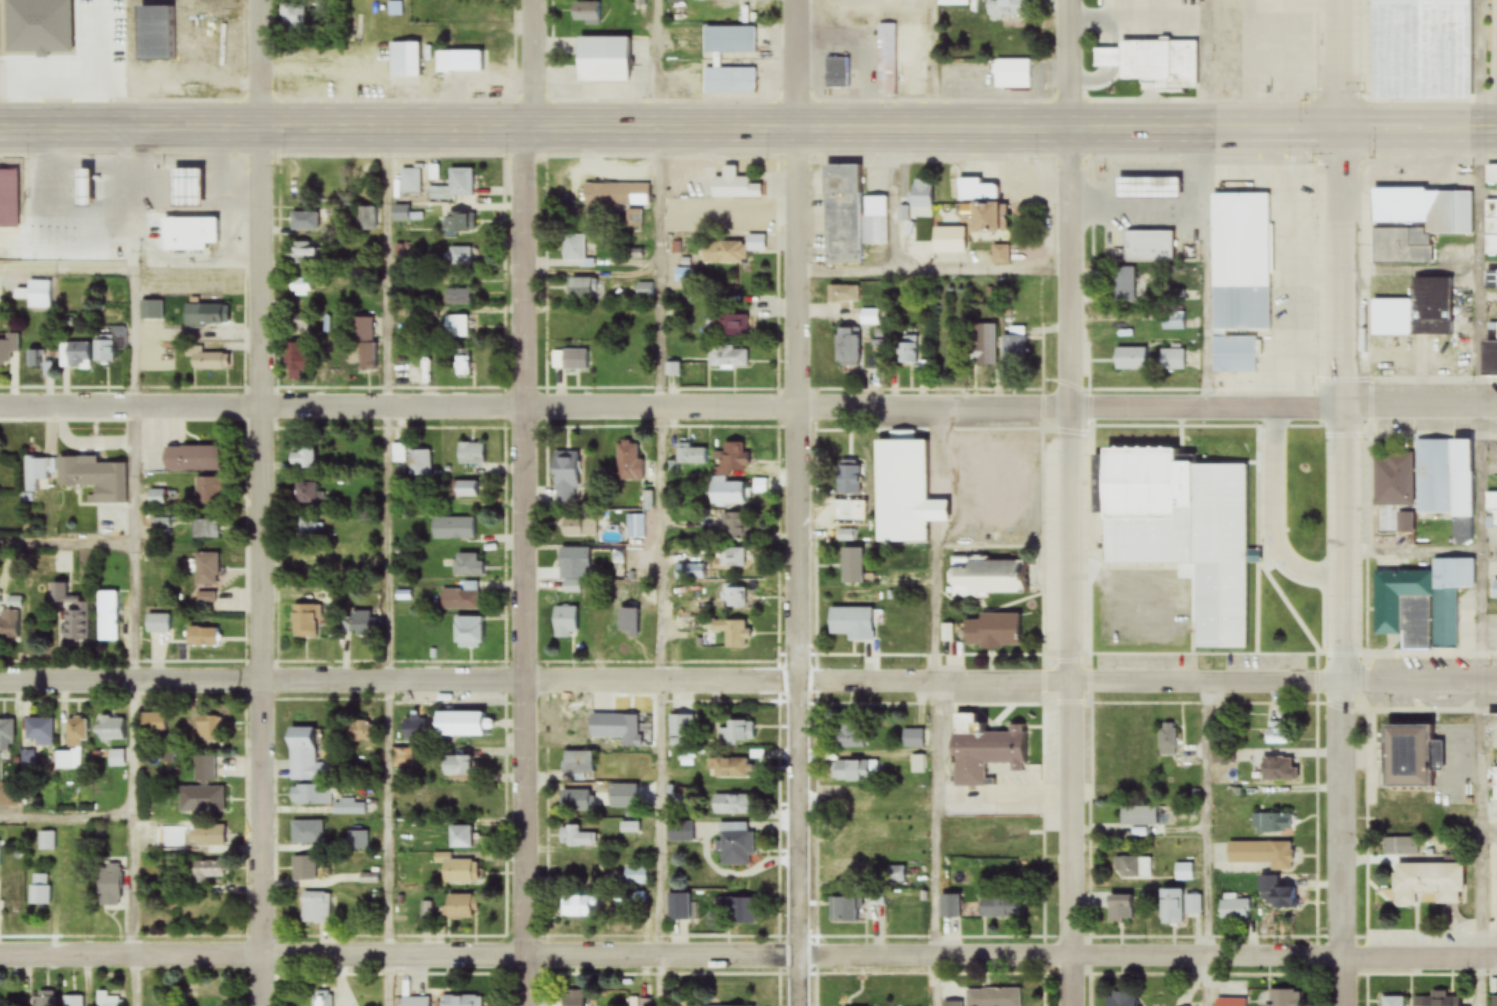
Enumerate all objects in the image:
building: (1005, 9)
building: (585, 13)
building: (125, 44)
building: (1416, 48)
building: (601, 53)
building: (402, 60)
building: (887, 60)
building: (1152, 60)
building: (457, 61)
building: (711, 61)
building: (837, 73)
building: (1012, 74)
road: (748, 130)
building: (109, 177)
building: (462, 183)
building: (408, 186)
building: (735, 186)
building: (1144, 188)
building: (617, 194)
building: (922, 197)
building: (9, 198)
building: (980, 204)
road: (1201, 206)
building: (843, 215)
building: (733, 218)
building: (368, 219)
building: (876, 221)
building: (304, 222)
building: (1434, 222)
building: (456, 223)
building: (196, 233)
building: (949, 241)
building: (1145, 246)
building: (574, 247)
building: (302, 251)
building: (724, 253)
building: (1001, 255)
building: (458, 256)
building: (1235, 258)
road: (66, 268)
road: (933, 269)
building: (1491, 278)
building: (1124, 286)
building: (299, 288)
building: (582, 288)
building: (645, 290)
building: (459, 291)
building: (844, 293)
building: (40, 295)
building: (1417, 310)
building: (153, 311)
building: (207, 316)
building: (869, 318)
building: (1174, 322)
building: (730, 323)
building: (457, 327)
building: (365, 344)
building: (984, 345)
building: (1015, 346)
building: (850, 347)
building: (908, 347)
building: (9, 349)
building: (106, 349)
building: (1235, 355)
building: (76, 356)
building: (614, 357)
building: (1489, 358)
building: (300, 359)
building: (334, 359)
building: (576, 359)
building: (729, 359)
building: (1132, 359)
building: (42, 360)
building: (1172, 360)
building: (212, 361)
building: (464, 362)
building: (676, 368)
road: (748, 409)
building: (472, 454)
building: (690, 455)
building: (735, 457)
building: (193, 459)
building: (302, 460)
building: (628, 460)
building: (416, 461)
building: (37, 472)
building: (848, 476)
building: (1426, 477)
building: (98, 478)
building: (566, 478)
building: (466, 489)
building: (209, 491)
building: (902, 491)
building: (726, 493)
building: (305, 494)
building: (157, 498)
road: (1334, 502)
road: (260, 503)
road: (525, 503)
road: (795, 503)
road: (1071, 503)
building: (1491, 511)
building: (162, 524)
building: (636, 525)
building: (1405, 525)
building: (728, 526)
building: (305, 527)
building: (463, 527)
building: (578, 527)
building: (201, 529)
building: (1189, 529)
road: (661, 540)
road: (388, 541)
road: (67, 542)
building: (573, 558)
building: (305, 559)
building: (730, 559)
building: (613, 560)
building: (468, 565)
building: (851, 566)
building: (205, 570)
building: (984, 578)
building: (570, 586)
building: (1494, 590)
building: (732, 597)
building: (460, 598)
building: (205, 599)
building: (1422, 603)
building: (71, 614)
building: (106, 617)
building: (627, 617)
building: (11, 621)
building: (302, 622)
building: (361, 622)
building: (563, 623)
building: (156, 624)
building: (851, 624)
building: (990, 632)
building: (467, 633)
building: (733, 633)
road: (134, 637)
building: (202, 638)
road: (748, 677)
road: (935, 708)
building: (151, 724)
building: (457, 725)
building: (109, 729)
building: (207, 729)
building: (412, 729)
building: (686, 731)
building: (569, 732)
building: (737, 732)
building: (357, 733)
building: (1276, 733)
building: (1495, 733)
building: (6, 734)
building: (74, 734)
building: (627, 736)
building: (847, 736)
building: (35, 739)
building: (912, 740)
building: (1168, 740)
building: (981, 751)
building: (1223, 756)
building: (303, 757)
building: (1406, 757)
building: (400, 758)
building: (576, 763)
building: (455, 767)
building: (728, 769)
building: (1278, 769)
building: (204, 771)
building: (850, 772)
building: (1494, 786)
building: (322, 800)
building: (201, 801)
building: (576, 801)
building: (729, 805)
building: (849, 805)
road: (68, 817)
building: (1138, 817)
building: (1276, 823)
building: (1401, 823)
building: (629, 828)
building: (306, 832)
building: (680, 832)
building: (1003, 833)
building: (208, 837)
building: (458, 837)
building: (575, 838)
building: (153, 840)
building: (47, 842)
building: (845, 842)
building: (735, 845)
building: (1401, 847)
building: (1253, 857)
building: (1133, 868)
building: (303, 869)
building: (576, 869)
building: (845, 870)
building: (209, 871)
building: (456, 871)
building: (1184, 872)
building: (894, 875)
building: (634, 876)
building: (1427, 884)
building: (109, 886)
building: (41, 890)
building: (9, 895)
building: (1276, 895)
building: (637, 899)
building: (578, 907)
building: (677, 907)
building: (997, 907)
building: (1178, 907)
building: (315, 908)
building: (457, 908)
building: (949, 908)
building: (735, 910)
building: (843, 910)
building: (1119, 910)
building: (1234, 910)
road: (748, 949)
building: (994, 997)
building: (572, 998)
building: (1284, 998)
building: (1, 999)
building: (323, 999)
building: (1120, 999)
building: (110, 1000)
building: (1437, 1000)
building: (75, 1001)
building: (206, 1001)
building: (461, 1001)
building: (1392, 1001)
building: (1495, 1001)
building: (416, 1002)
building: (639, 1002)
building: (1231, 1002)

